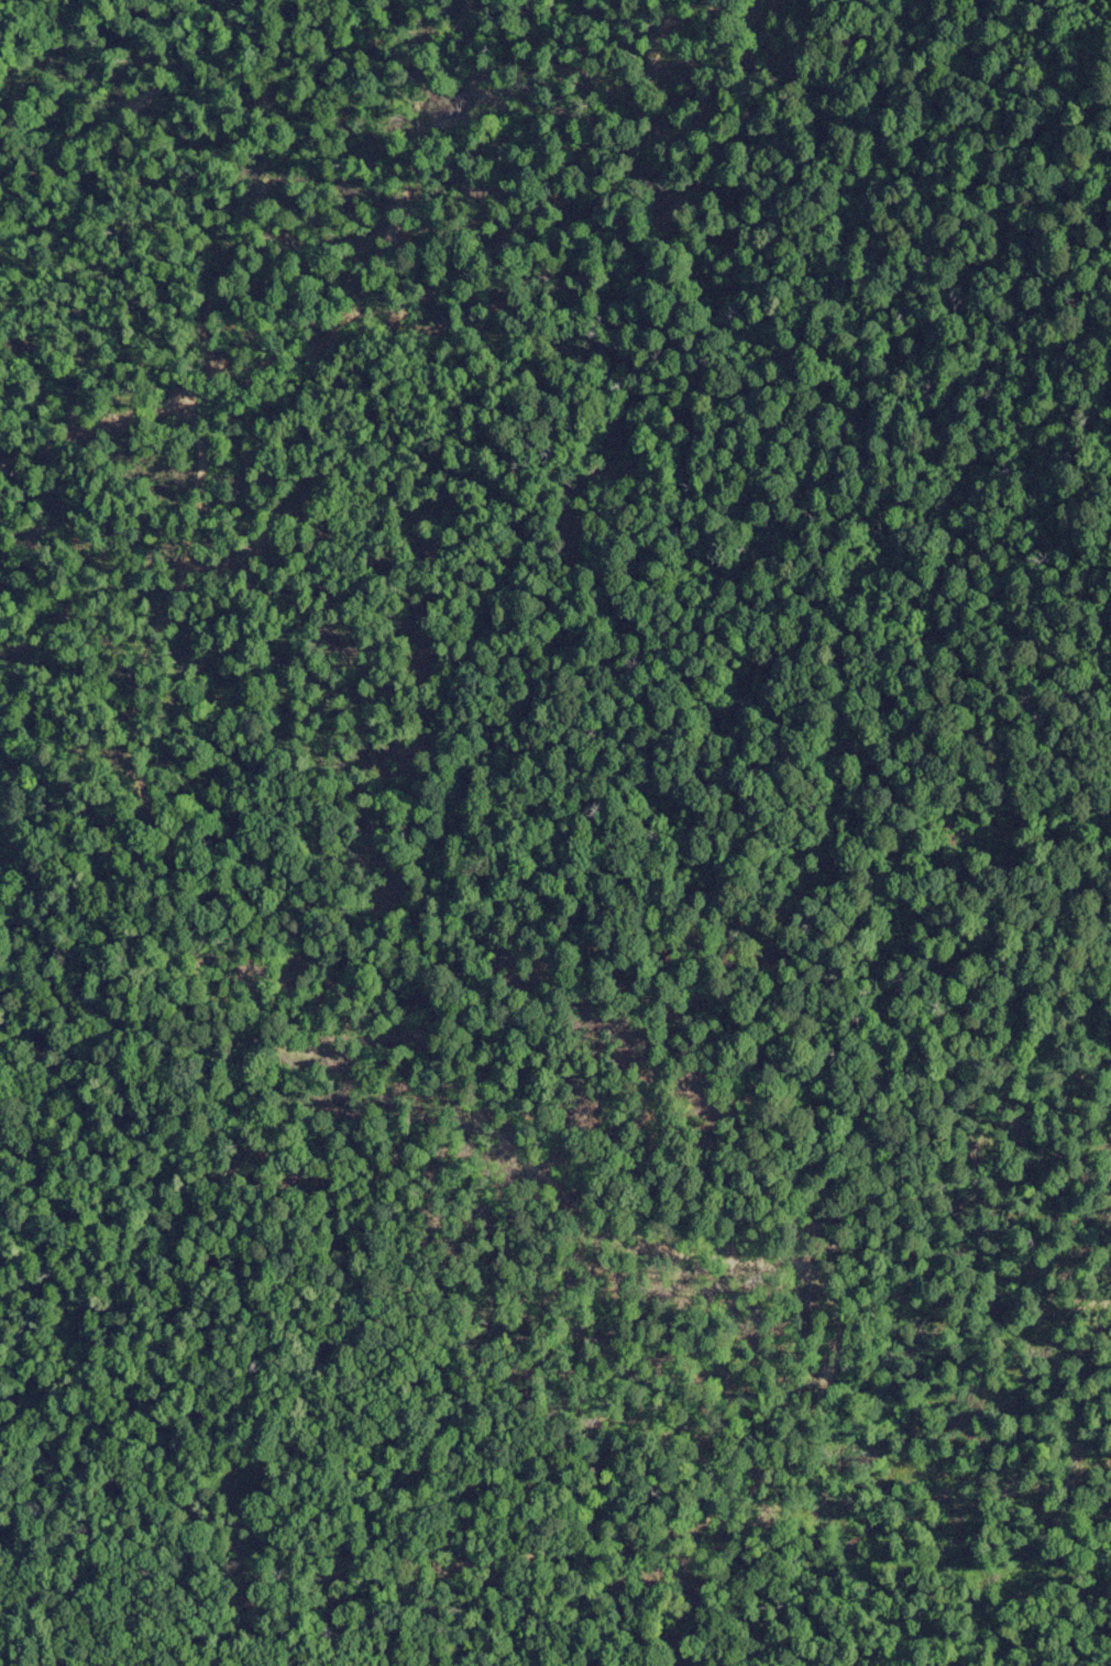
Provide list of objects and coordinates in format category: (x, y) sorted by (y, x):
road: (102, 96)
road: (92, 781)
road: (147, 1415)

